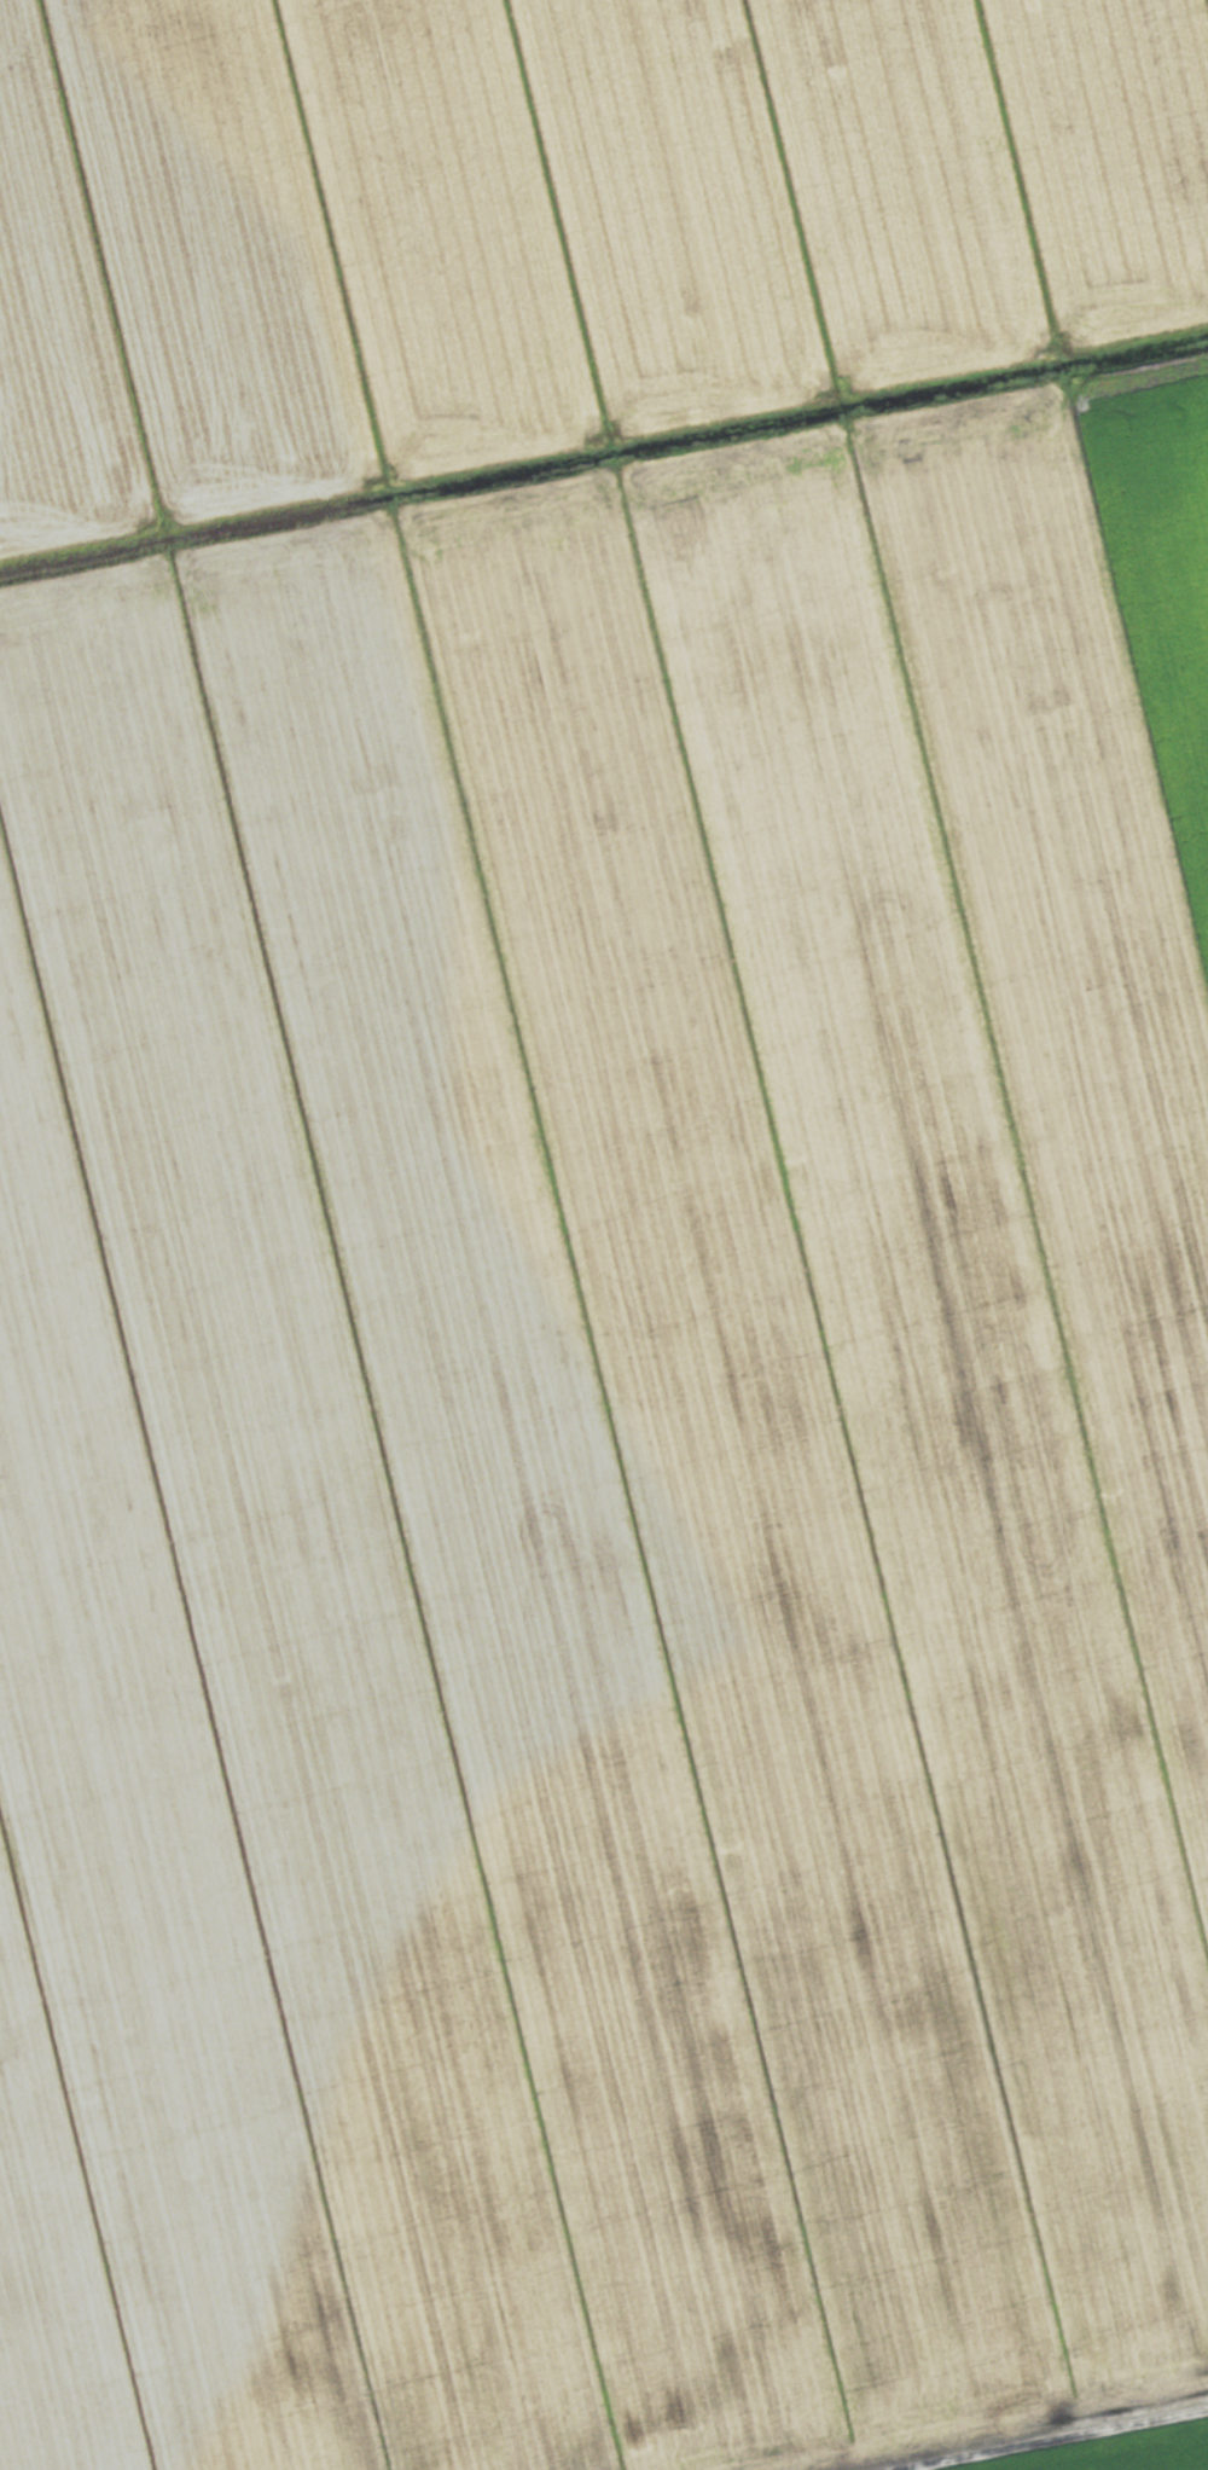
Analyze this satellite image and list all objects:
crop: (550, 226)
crop: (611, 1461)

